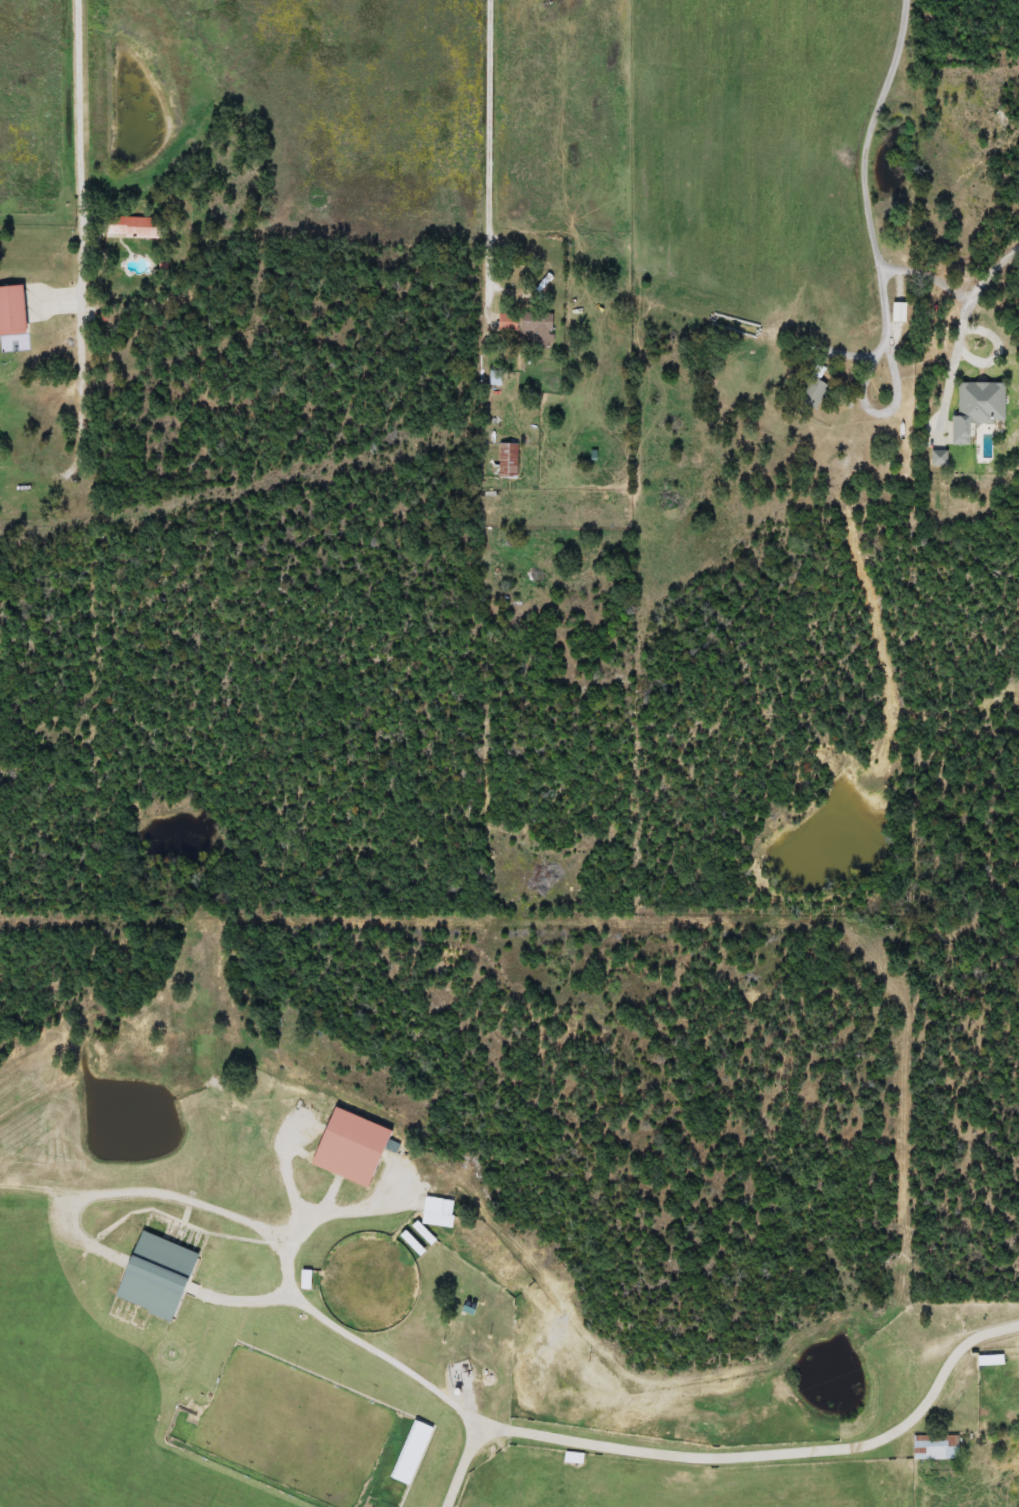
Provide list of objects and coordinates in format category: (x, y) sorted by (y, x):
road: (488, 160)
road: (82, 224)
building: (131, 227)
building: (10, 310)
building: (535, 329)
building: (812, 388)
road: (890, 393)
building: (975, 407)
building: (937, 458)
building: (506, 460)
building: (346, 1147)
building: (436, 1212)
building: (153, 1275)
building: (987, 1360)
building: (933, 1446)
building: (409, 1453)
road: (733, 1454)
building: (570, 1457)

